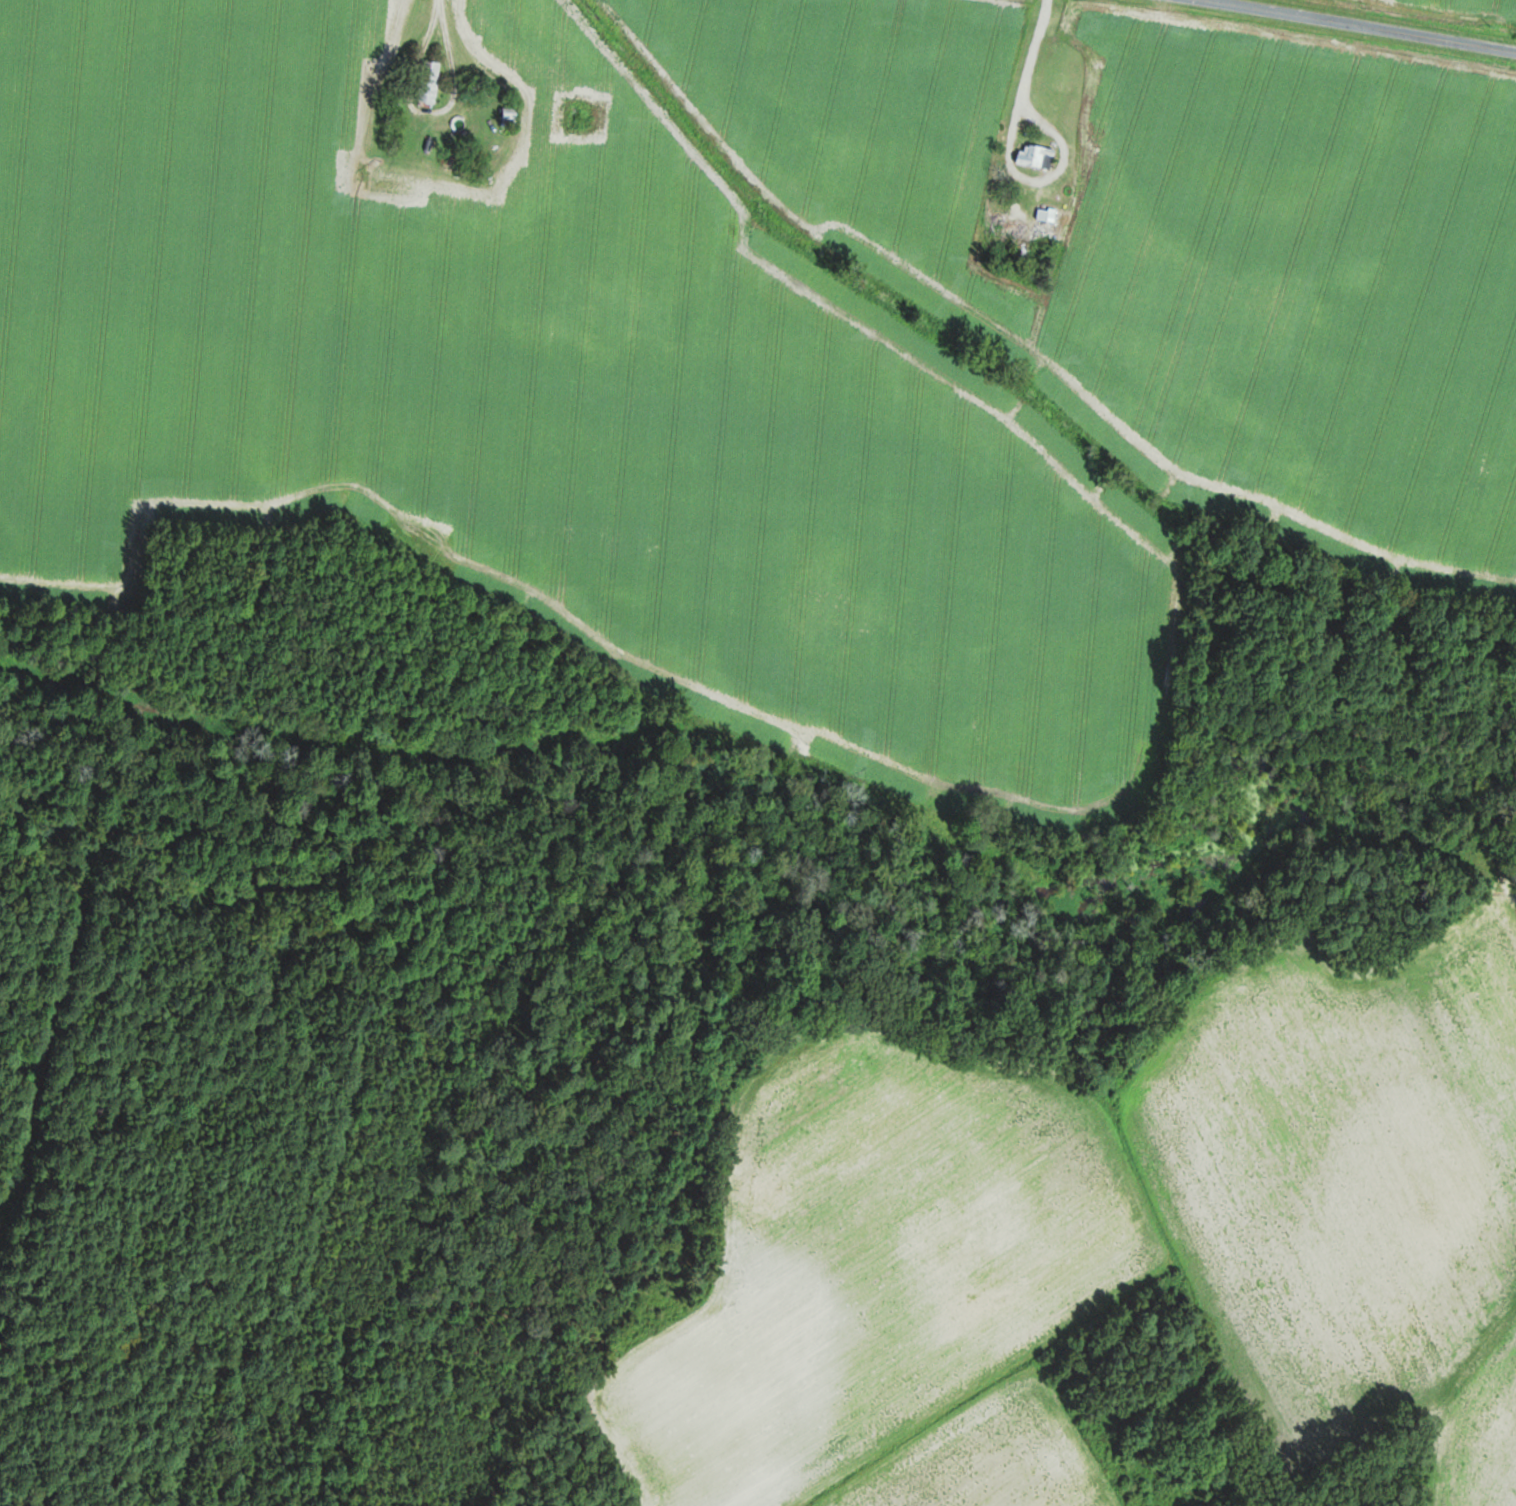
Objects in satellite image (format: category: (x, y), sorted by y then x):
road: (1367, 25)
building: (433, 84)
building: (588, 116)
building: (513, 117)
building: (1039, 156)
road: (172, 1463)

